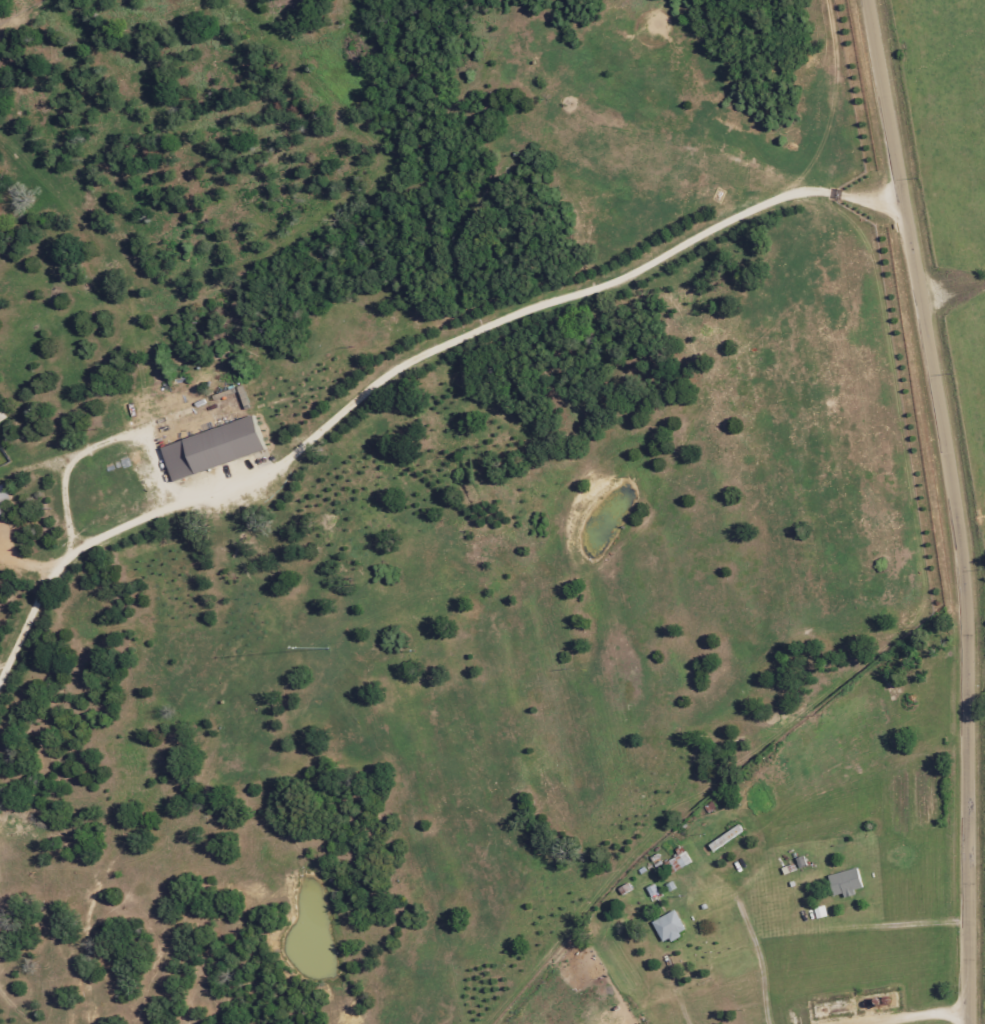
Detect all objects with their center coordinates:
building: (211, 449)
road: (942, 510)
building: (0, 516)
building: (726, 838)
building: (680, 862)
building: (846, 883)
building: (653, 891)
building: (669, 927)

